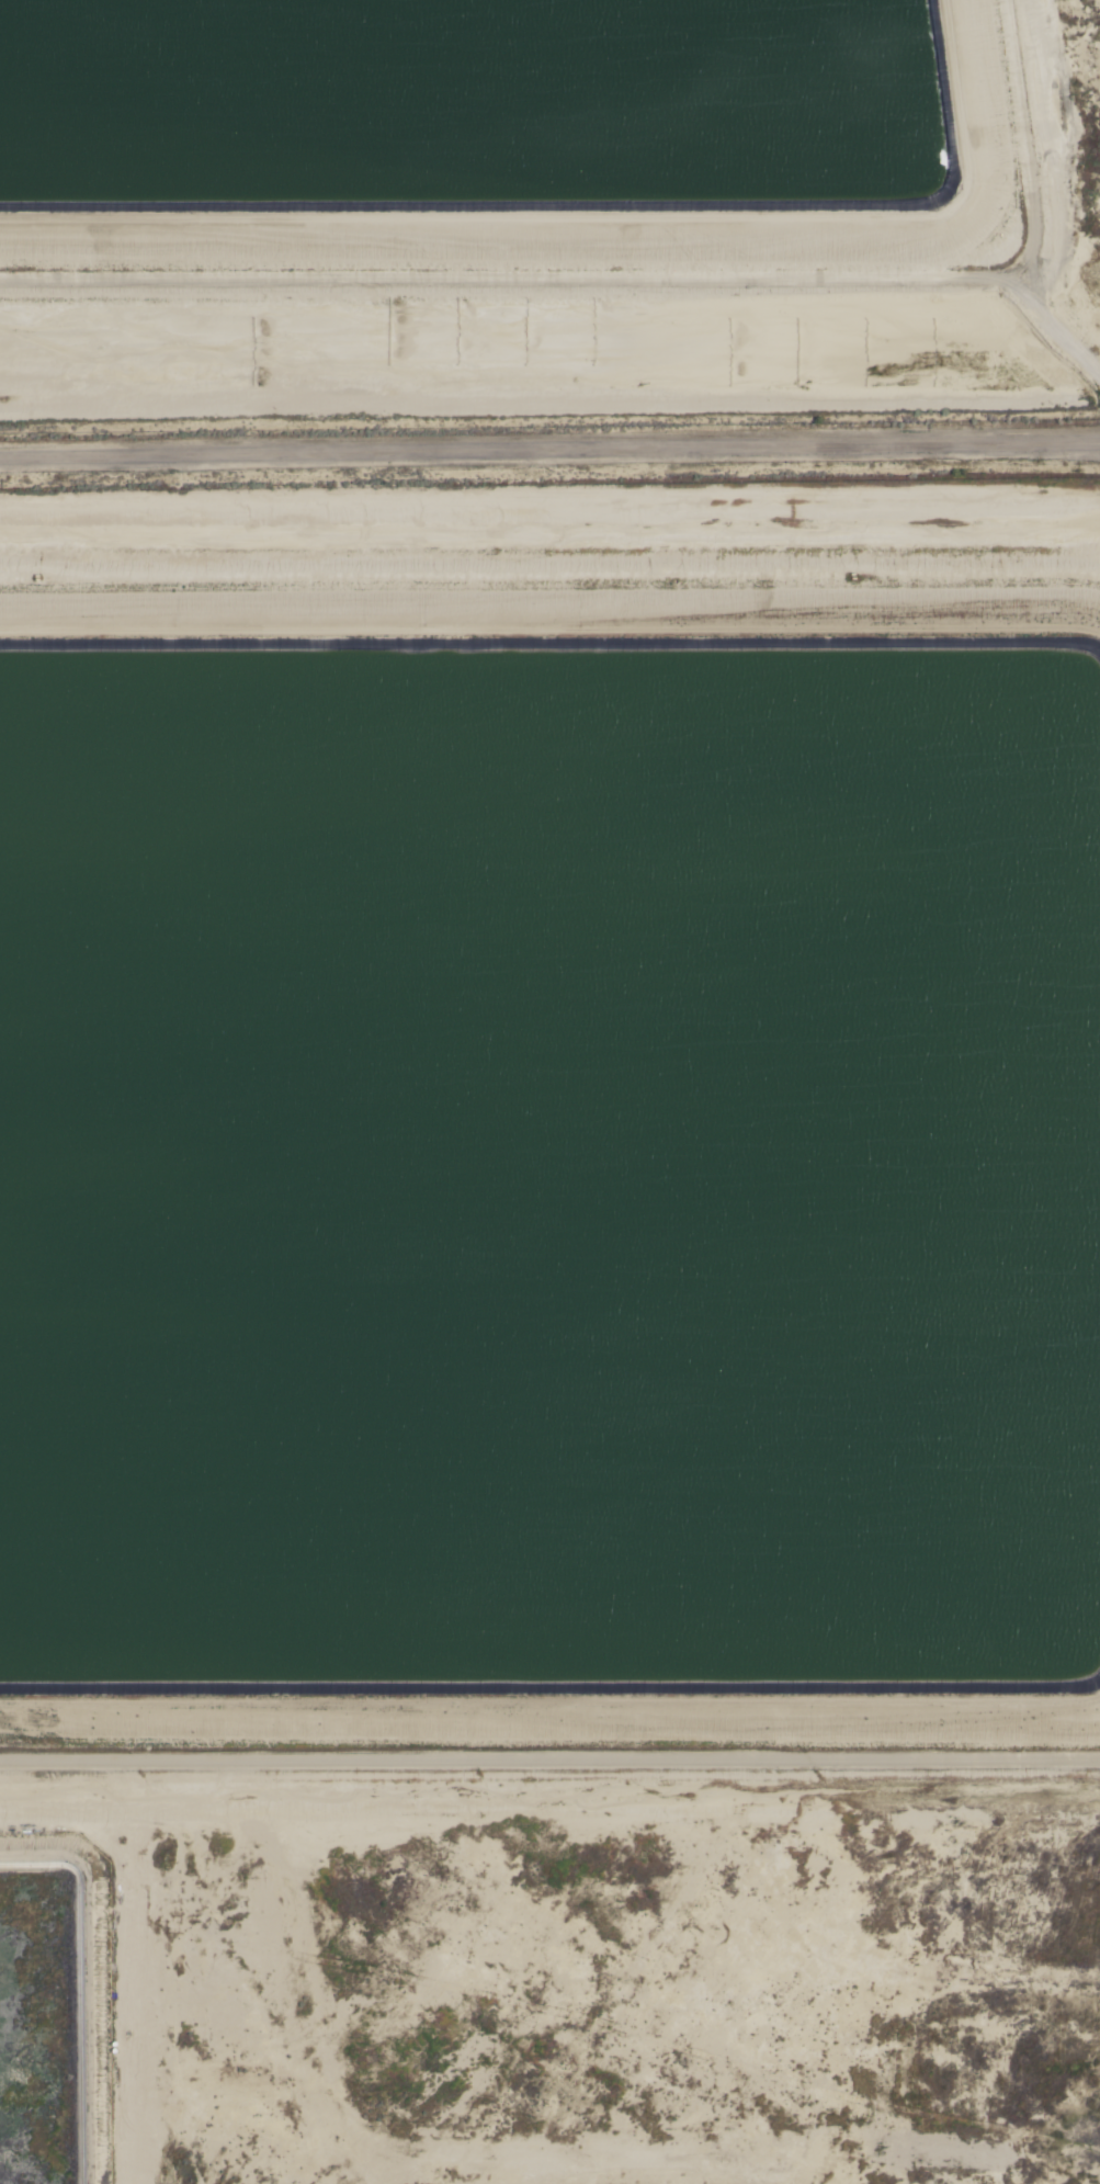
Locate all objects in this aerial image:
wastewater plant: (547, 206)
road: (549, 453)
wastewater plant: (551, 1333)
road: (549, 1758)

